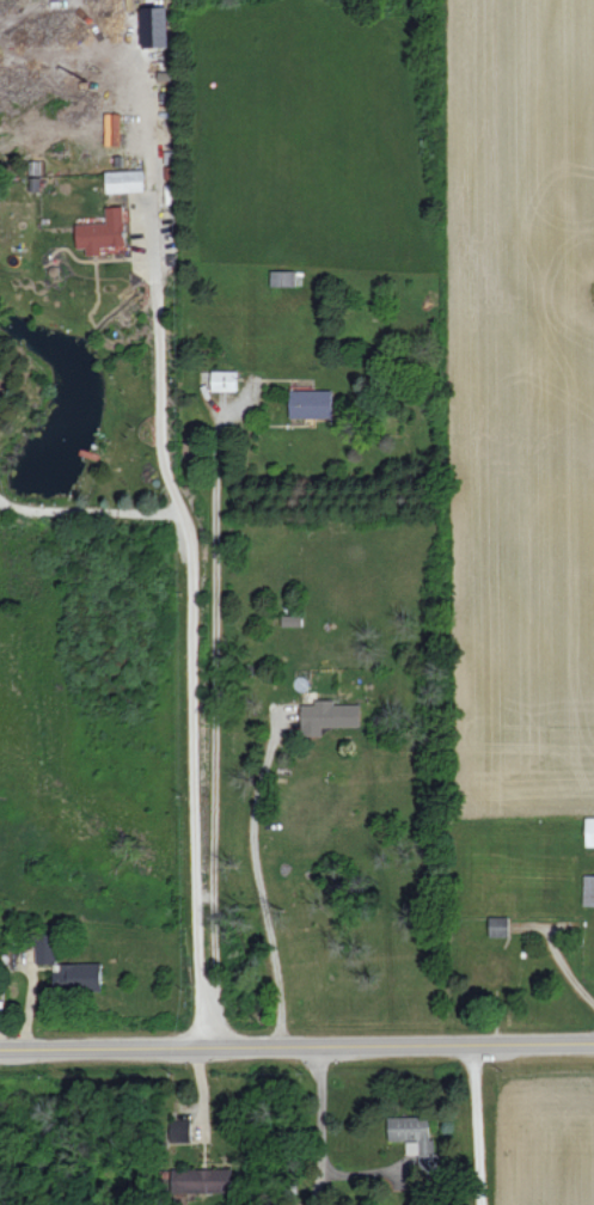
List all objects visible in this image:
building: (154, 25)
building: (124, 181)
building: (103, 231)
building: (223, 380)
building: (311, 403)
road: (186, 559)
building: (327, 716)
road: (218, 730)
building: (589, 831)
road: (262, 886)
building: (588, 889)
building: (498, 925)
building: (47, 948)
road: (17, 965)
building: (79, 975)
road: (296, 1051)
road: (319, 1127)
road: (477, 1127)
building: (424, 1146)
building: (201, 1180)

